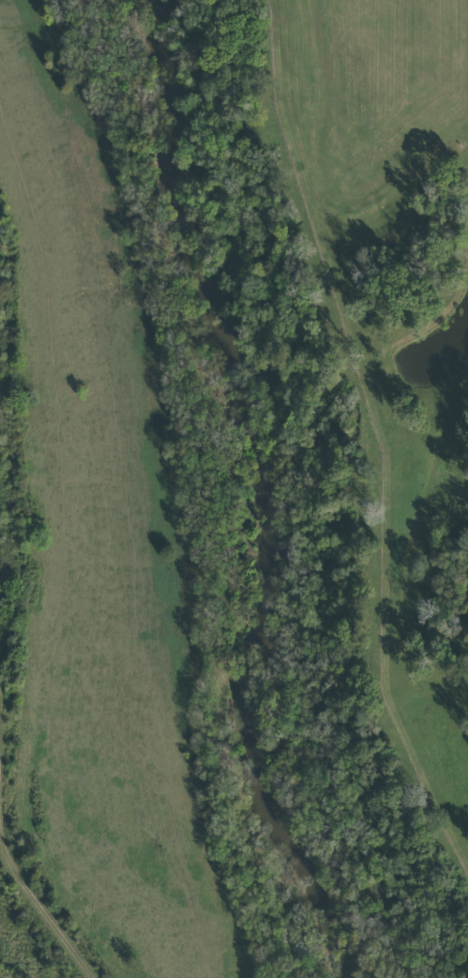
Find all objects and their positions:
river: (258, 491)

